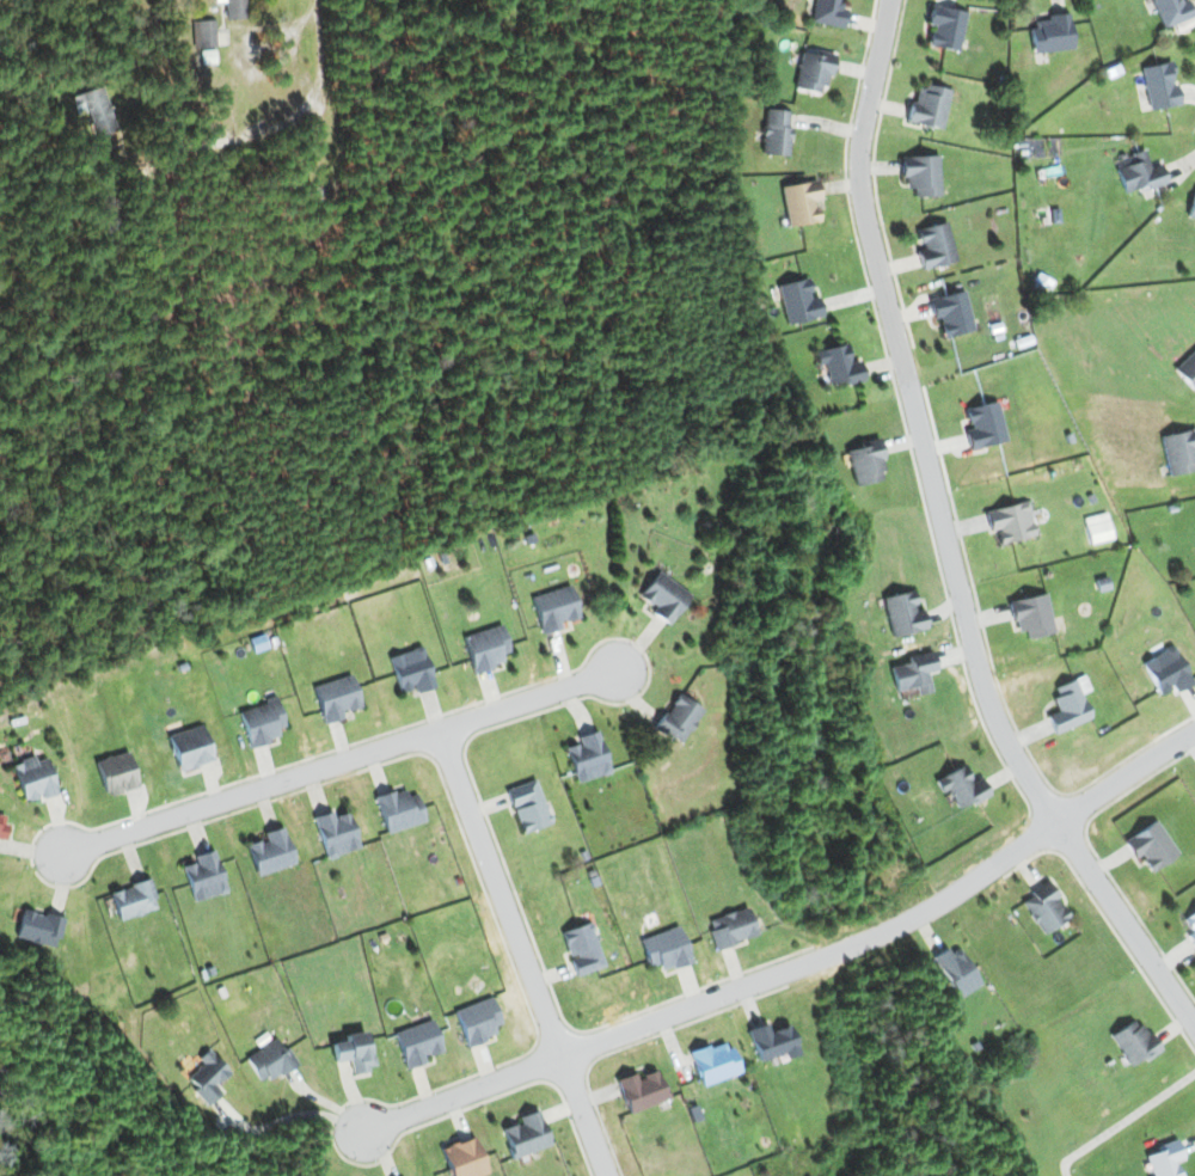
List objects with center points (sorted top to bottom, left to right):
building: (233, 8)
building: (1171, 11)
building: (827, 12)
building: (945, 27)
building: (203, 33)
building: (1050, 33)
building: (813, 71)
building: (1159, 86)
building: (927, 106)
building: (93, 110)
building: (776, 133)
building: (1138, 172)
building: (920, 174)
building: (799, 202)
building: (1191, 208)
building: (934, 245)
building: (797, 301)
building: (951, 313)
building: (838, 365)
building: (1187, 369)
building: (983, 424)
building: (1179, 451)
building: (865, 463)
building: (1010, 521)
building: (1097, 528)
road: (940, 539)
building: (664, 596)
building: (553, 608)
building: (901, 613)
building: (1030, 614)
building: (257, 642)
building: (485, 648)
building: (411, 669)
building: (1166, 670)
building: (912, 672)
building: (336, 698)
building: (1068, 704)
building: (679, 718)
building: (261, 722)
building: (189, 747)
building: (587, 757)
road: (347, 761)
building: (116, 773)
building: (32, 778)
building: (960, 786)
building: (527, 806)
building: (398, 809)
building: (2, 827)
building: (335, 833)
building: (1150, 845)
building: (270, 852)
building: (203, 876)
building: (133, 899)
building: (1043, 907)
building: (38, 927)
building: (731, 927)
building: (1190, 927)
building: (581, 948)
building: (664, 949)
road: (529, 953)
road: (807, 969)
building: (955, 972)
building: (477, 1021)
building: (772, 1041)
building: (417, 1042)
building: (1132, 1042)
building: (354, 1051)
building: (270, 1060)
building: (713, 1062)
building: (207, 1077)
building: (642, 1090)
road: (1123, 1121)
building: (526, 1134)
building: (462, 1158)
building: (1164, 1159)

